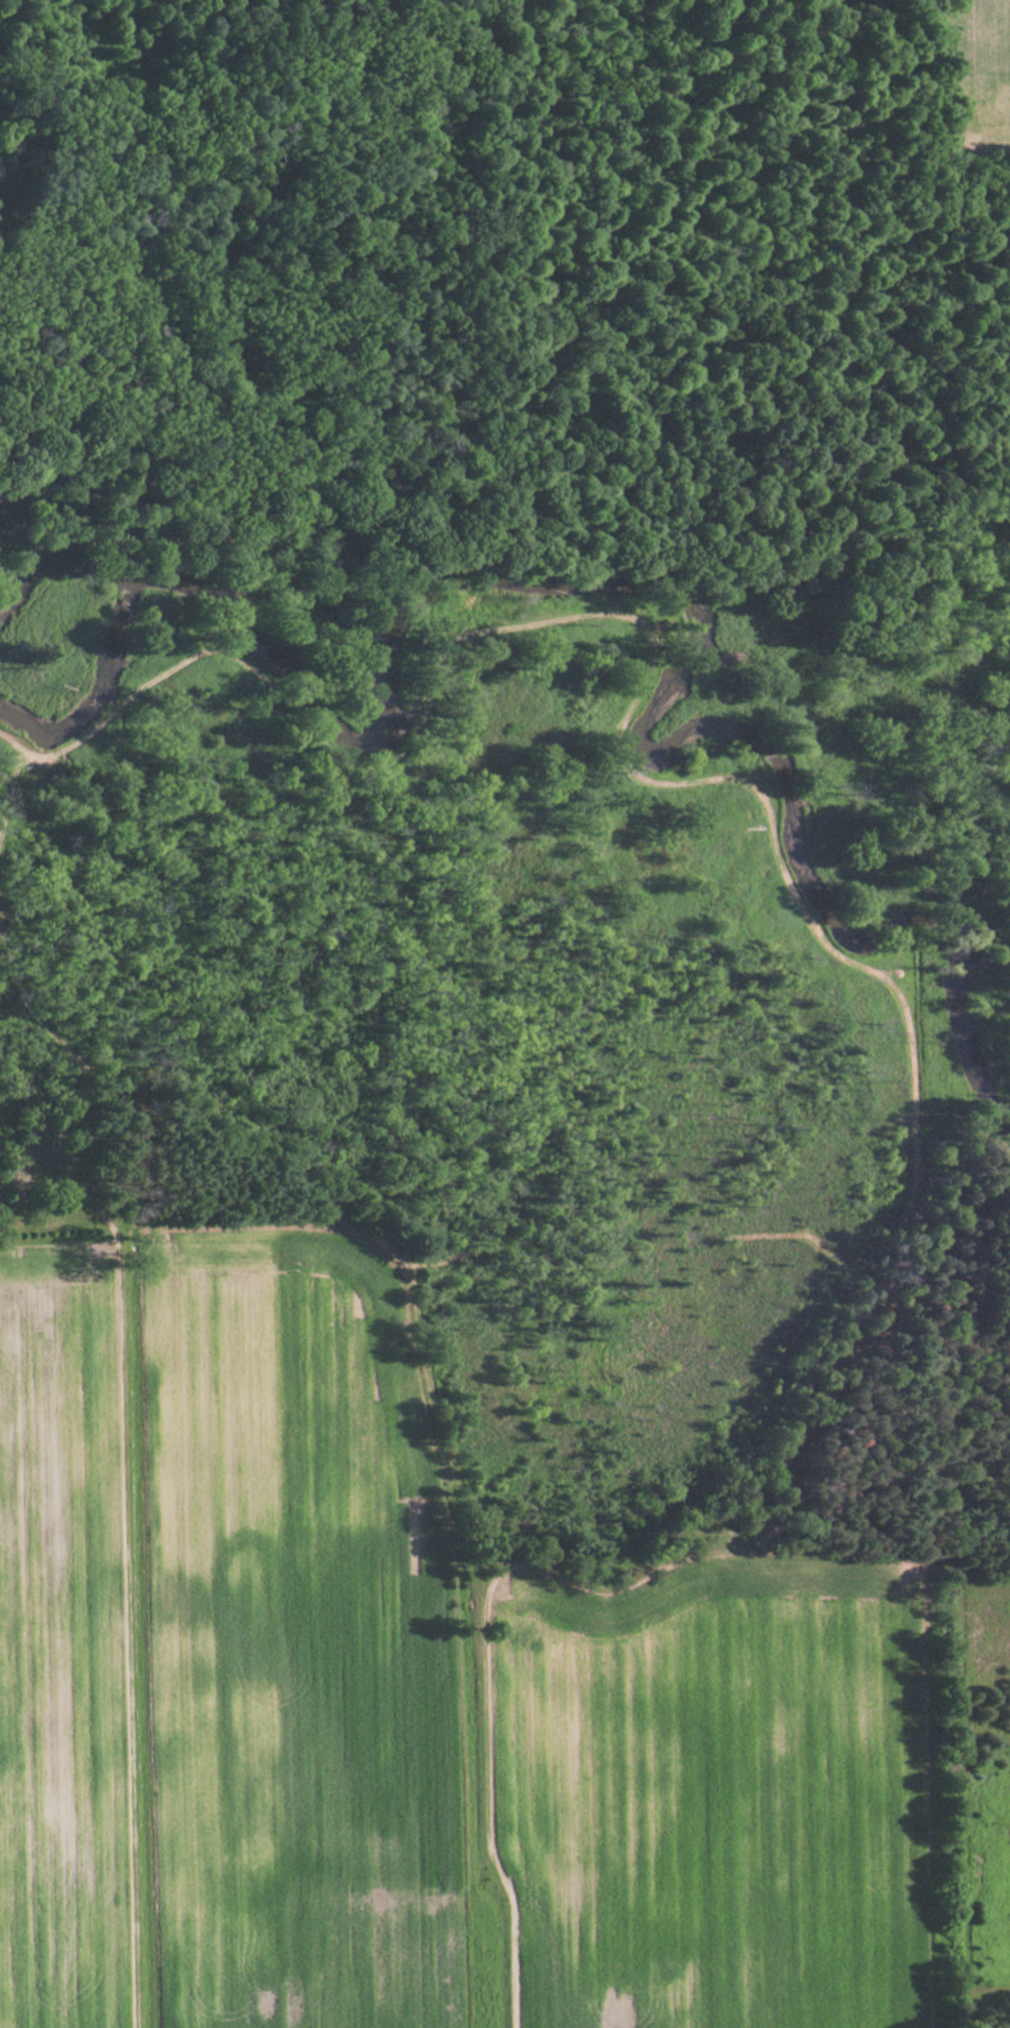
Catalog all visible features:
river: (57, 534)
river: (627, 575)

